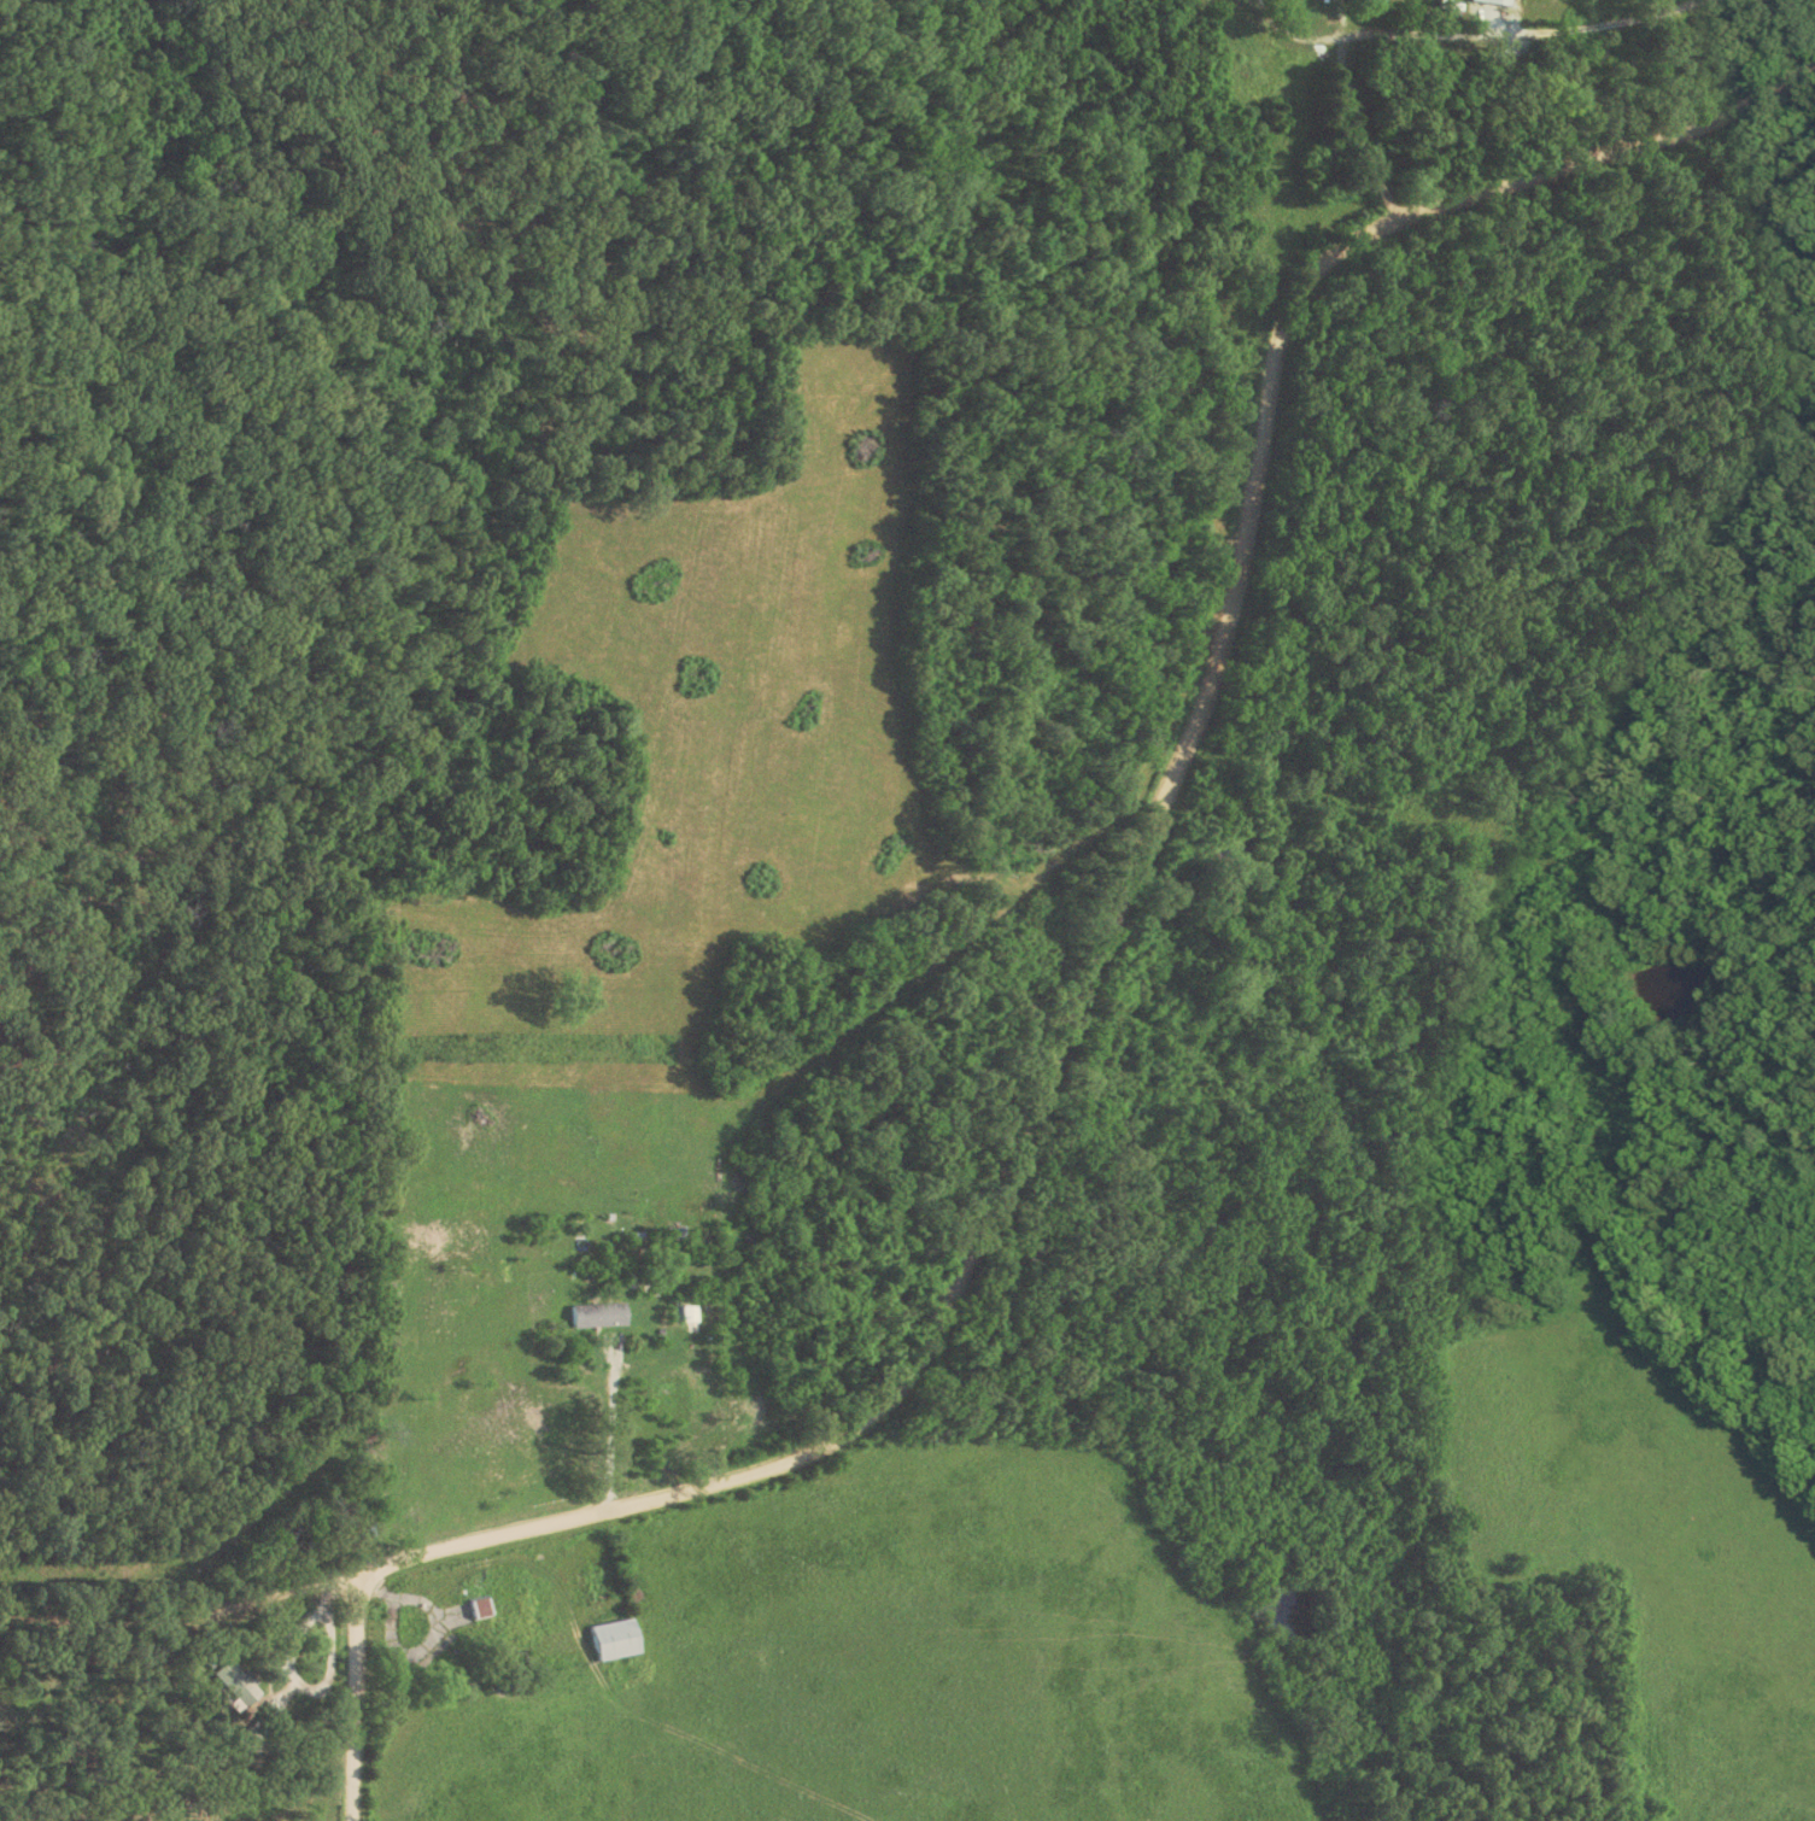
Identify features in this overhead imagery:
building: (1371, 0)
building: (1494, 2)
road: (1483, 33)
road: (1342, 99)
road: (1609, 169)
road: (1041, 1081)
building: (683, 1312)
building: (598, 1313)
road: (603, 1412)
road: (374, 1592)
road: (178, 1610)
road: (429, 1634)
building: (616, 1638)
road: (276, 1665)
building: (233, 1681)
road: (342, 1703)

